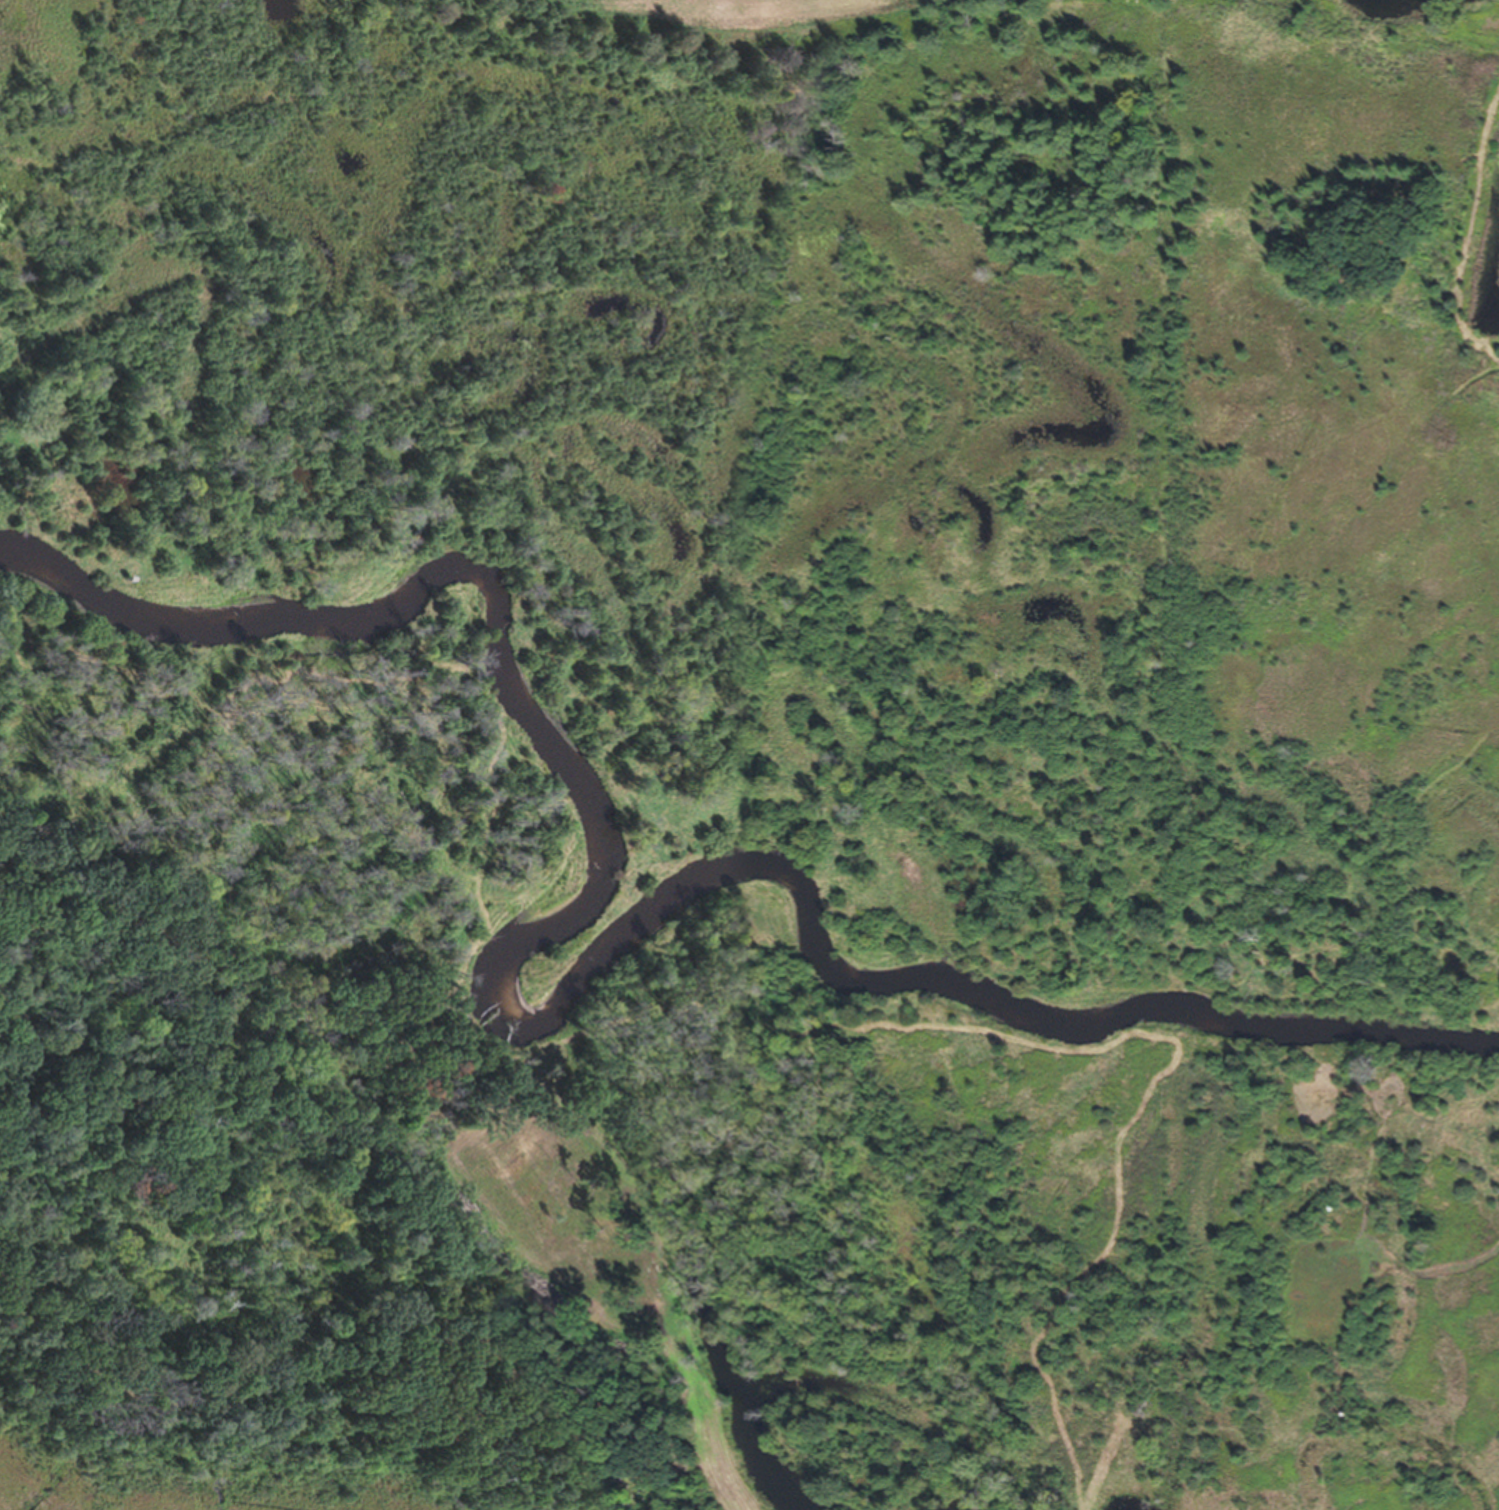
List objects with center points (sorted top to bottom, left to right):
river: (543, 1011)

